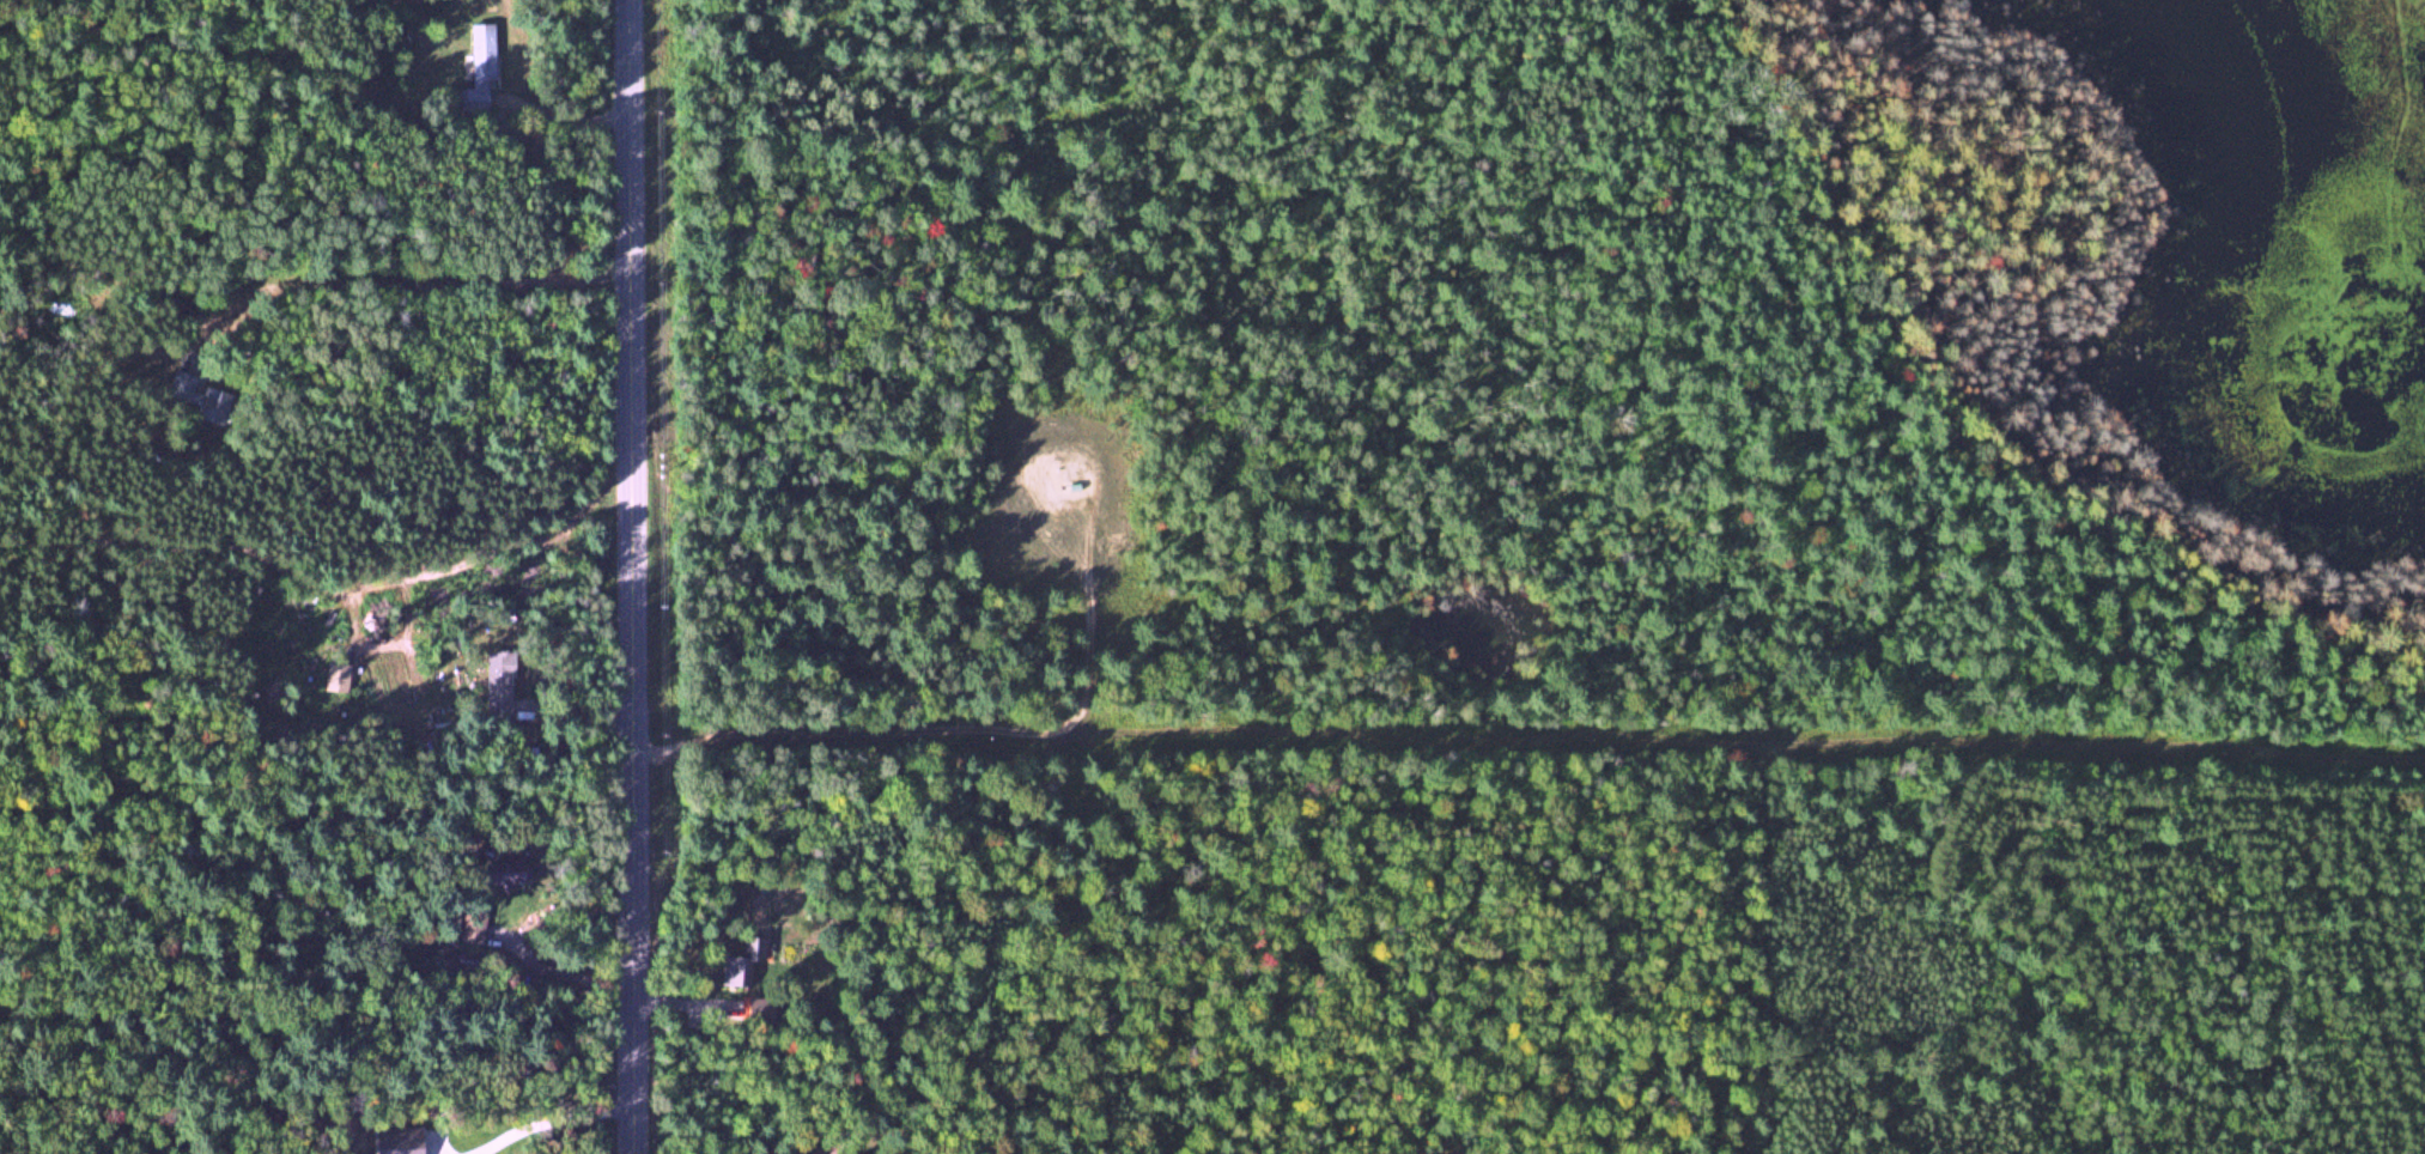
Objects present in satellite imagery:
building: (480, 67)
building: (175, 304)
building: (196, 397)
petroleum well: (1069, 481)
road: (630, 576)
building: (498, 681)
road: (954, 734)
building: (503, 871)
building: (741, 965)
building: (407, 1148)
building: (837, 1148)

